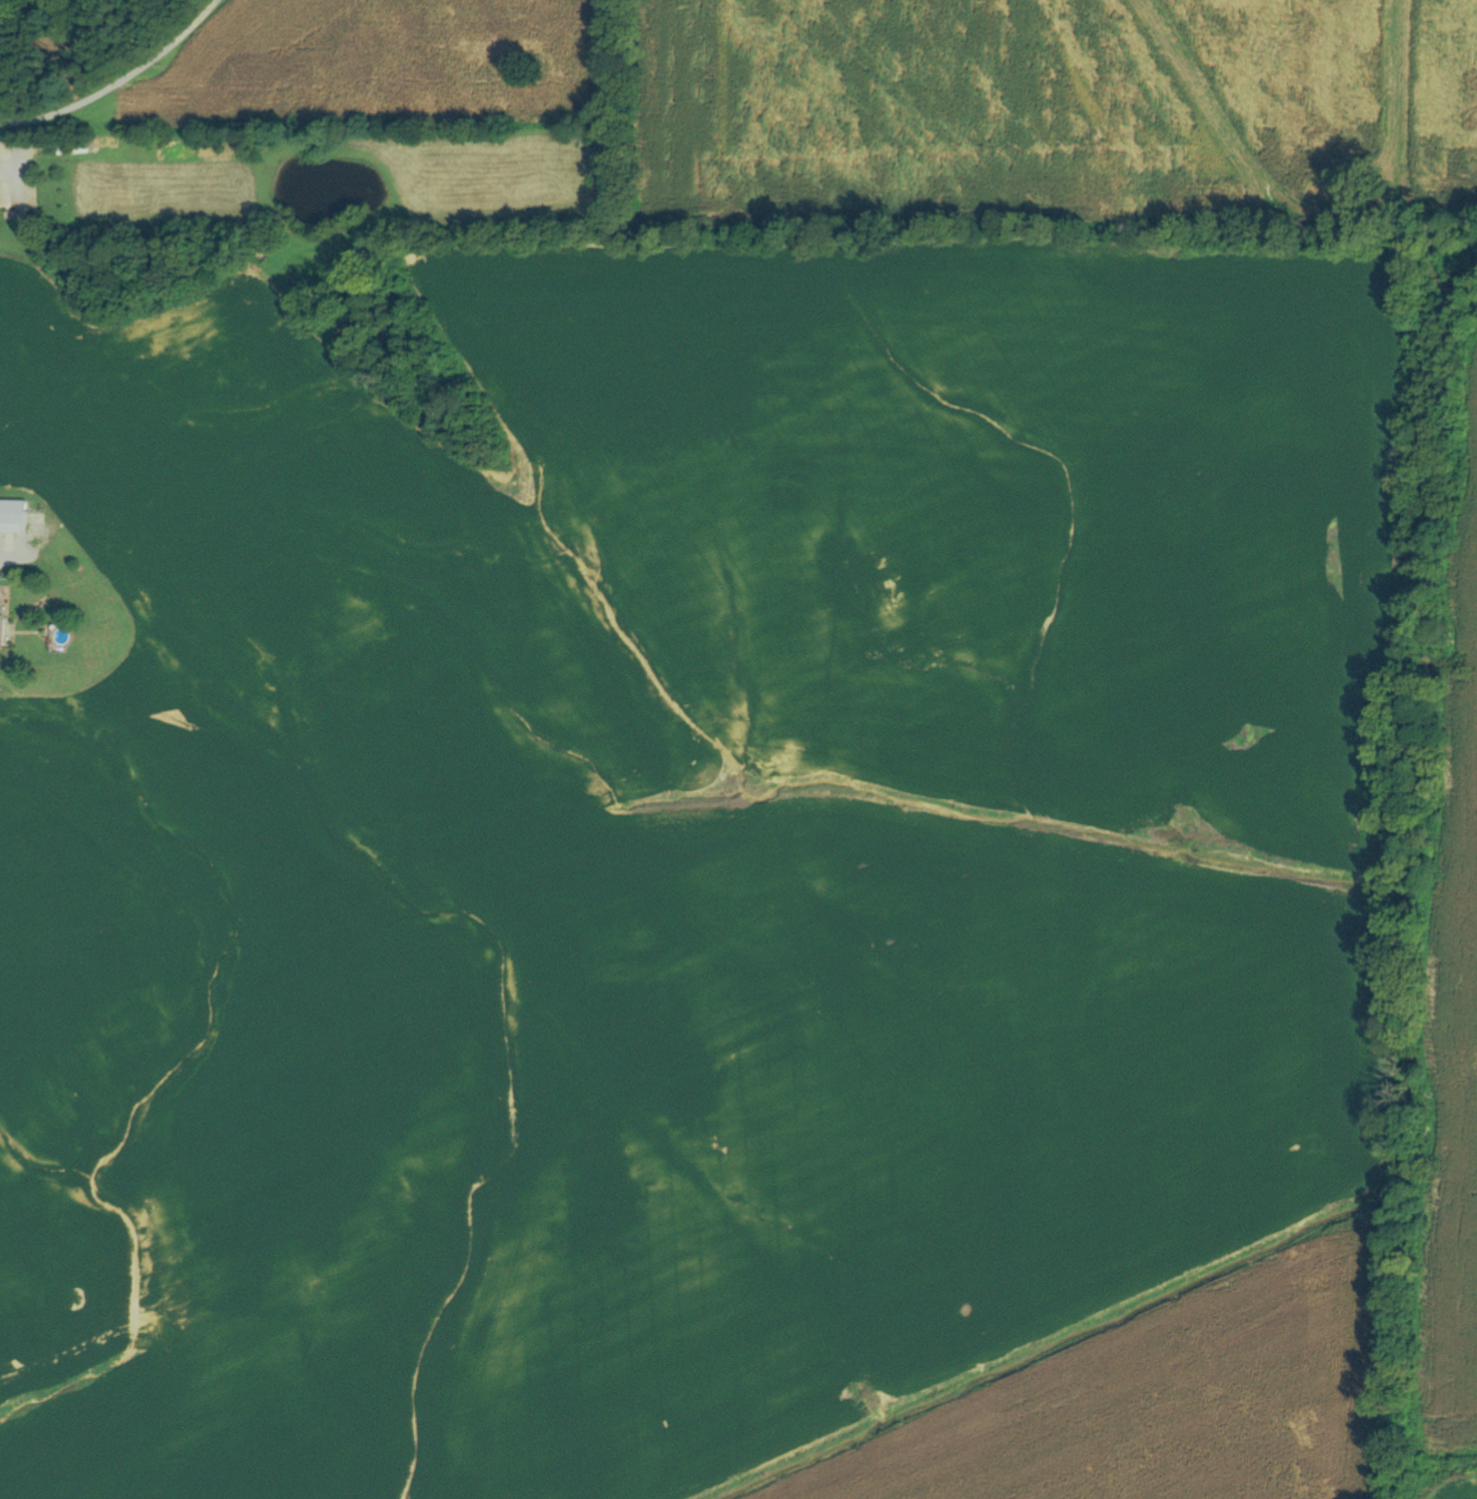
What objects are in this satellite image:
building: (71, 148)
building: (11, 517)
building: (863, 541)
building: (1020, 1155)
crop: (1159, 1402)

